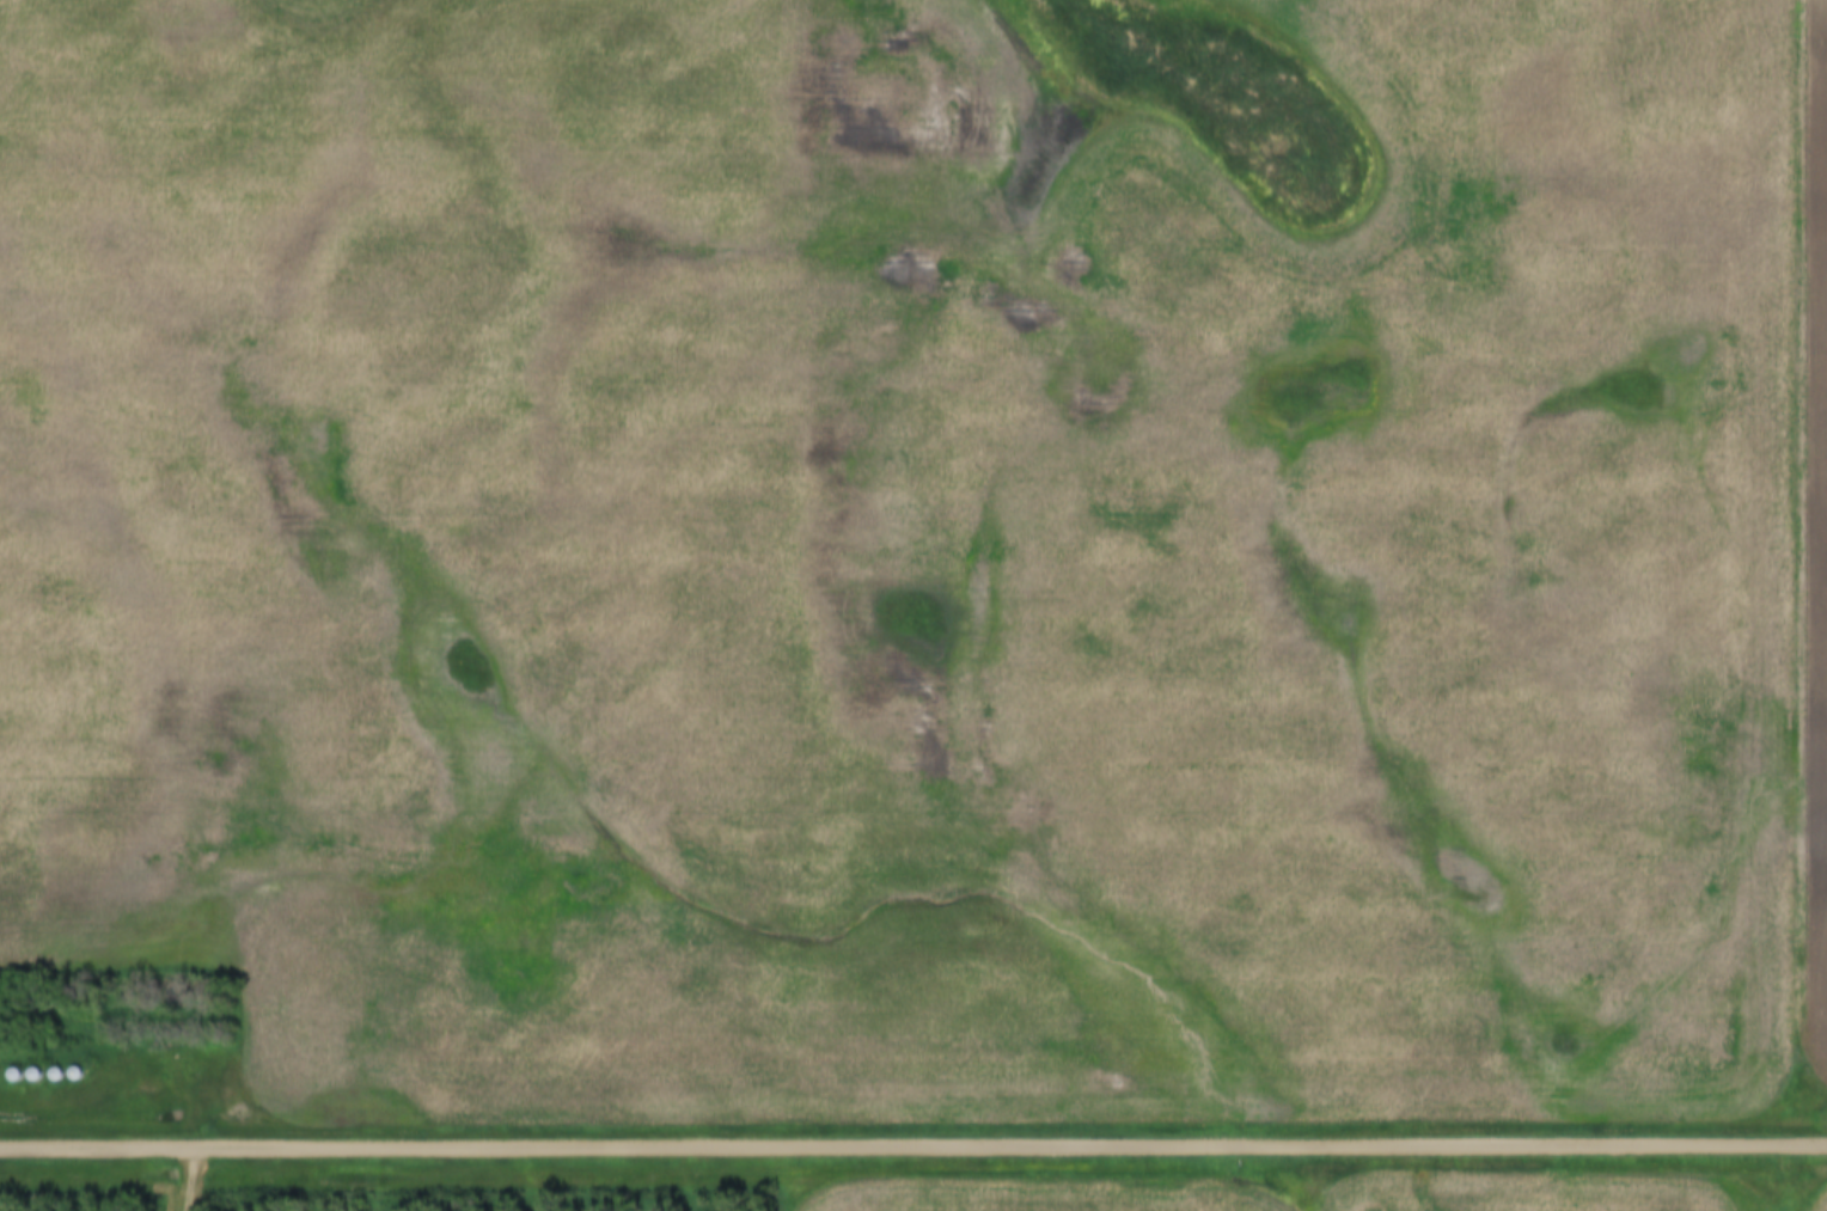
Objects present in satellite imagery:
road: (912, 1149)
road: (194, 1181)

